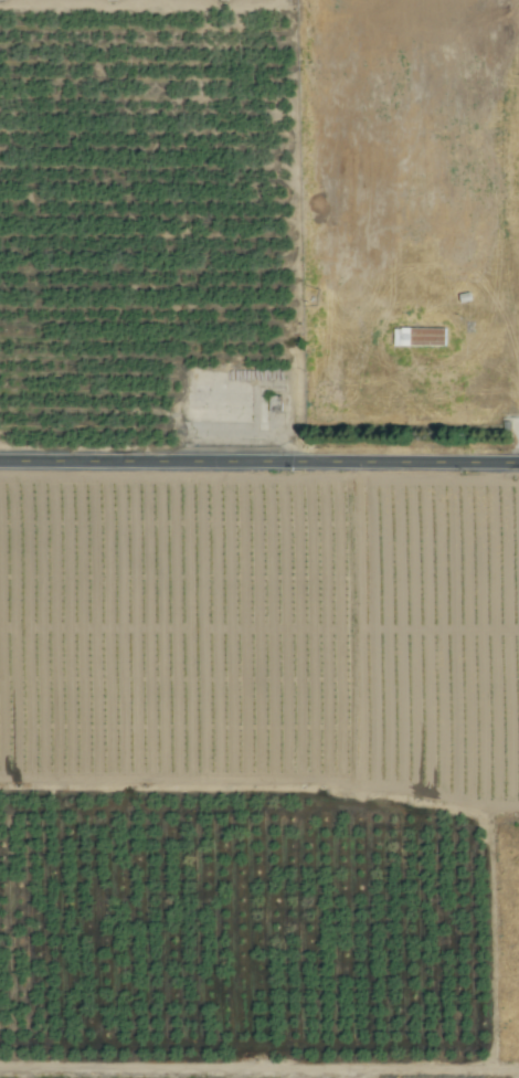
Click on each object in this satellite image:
building: (419, 337)
road: (259, 463)

